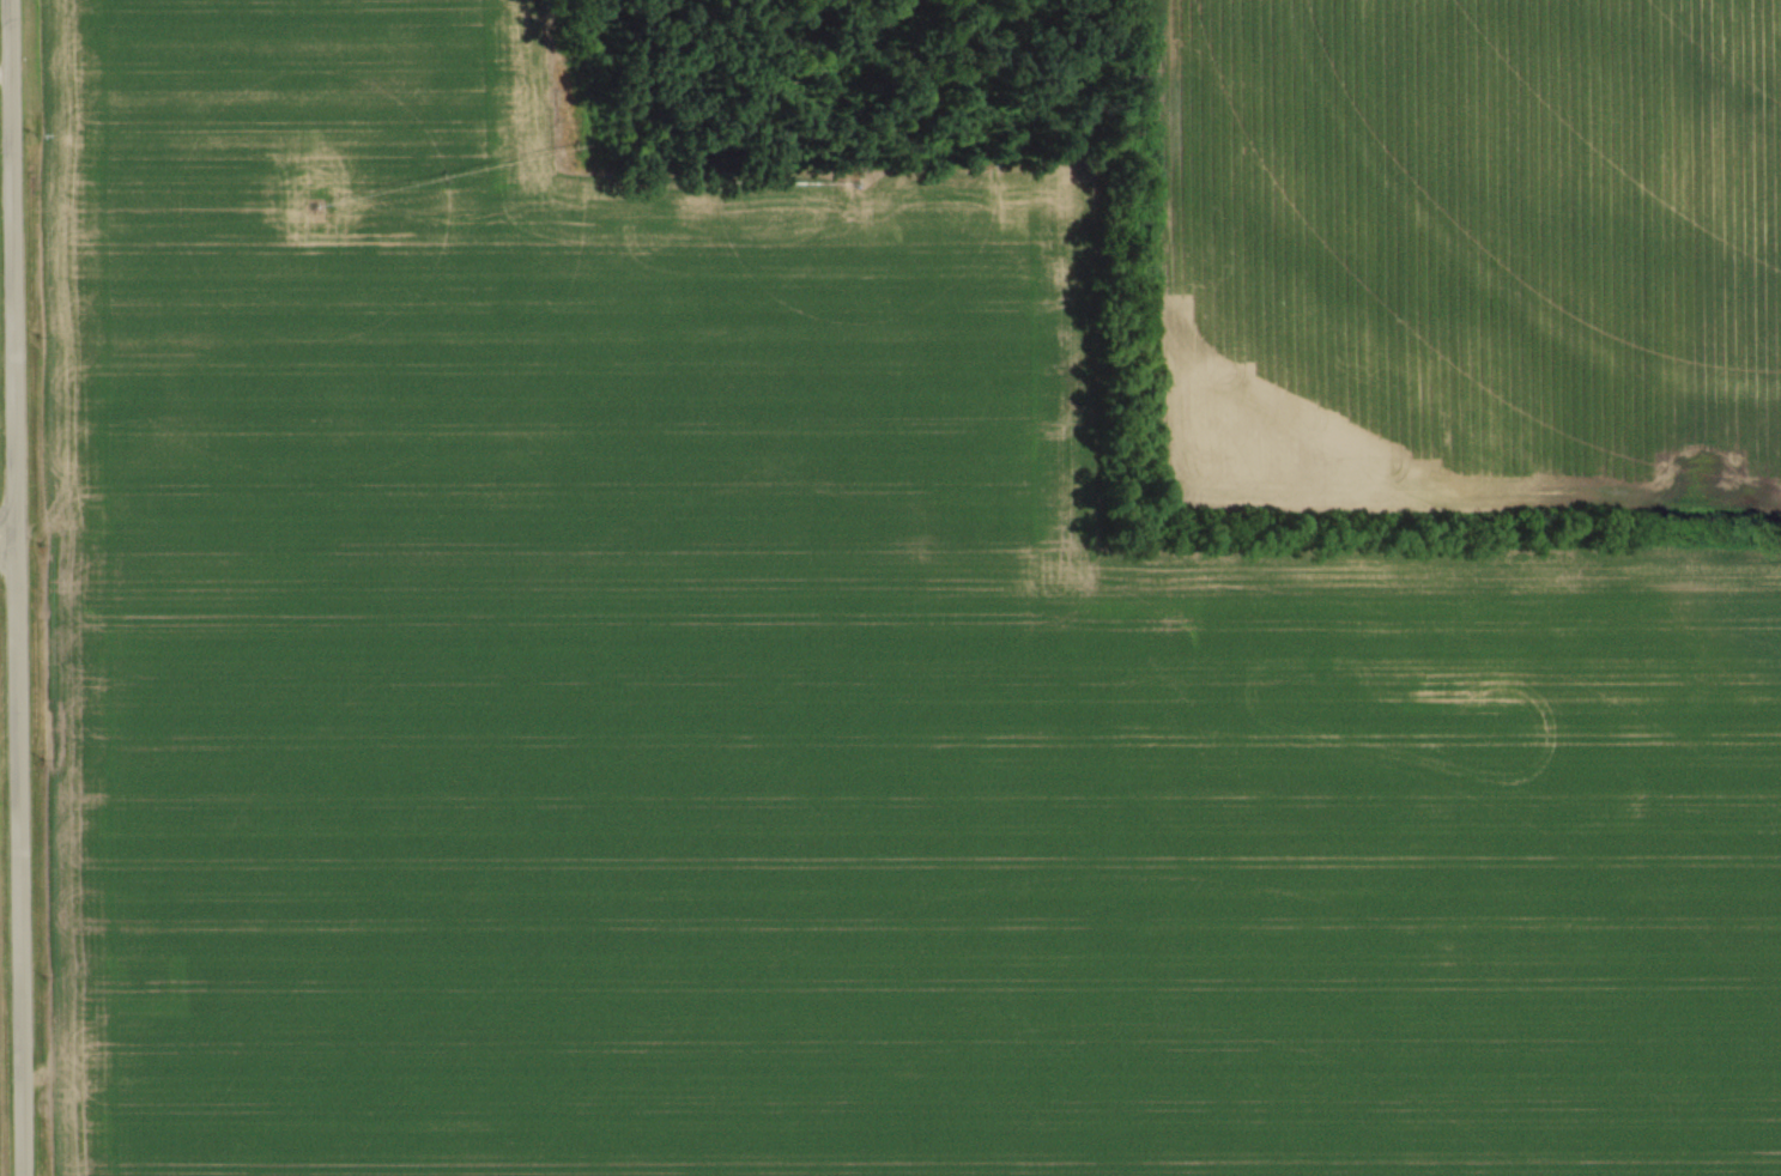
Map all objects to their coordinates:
road: (5, 546)
road: (10, 588)
crop: (808, 702)

